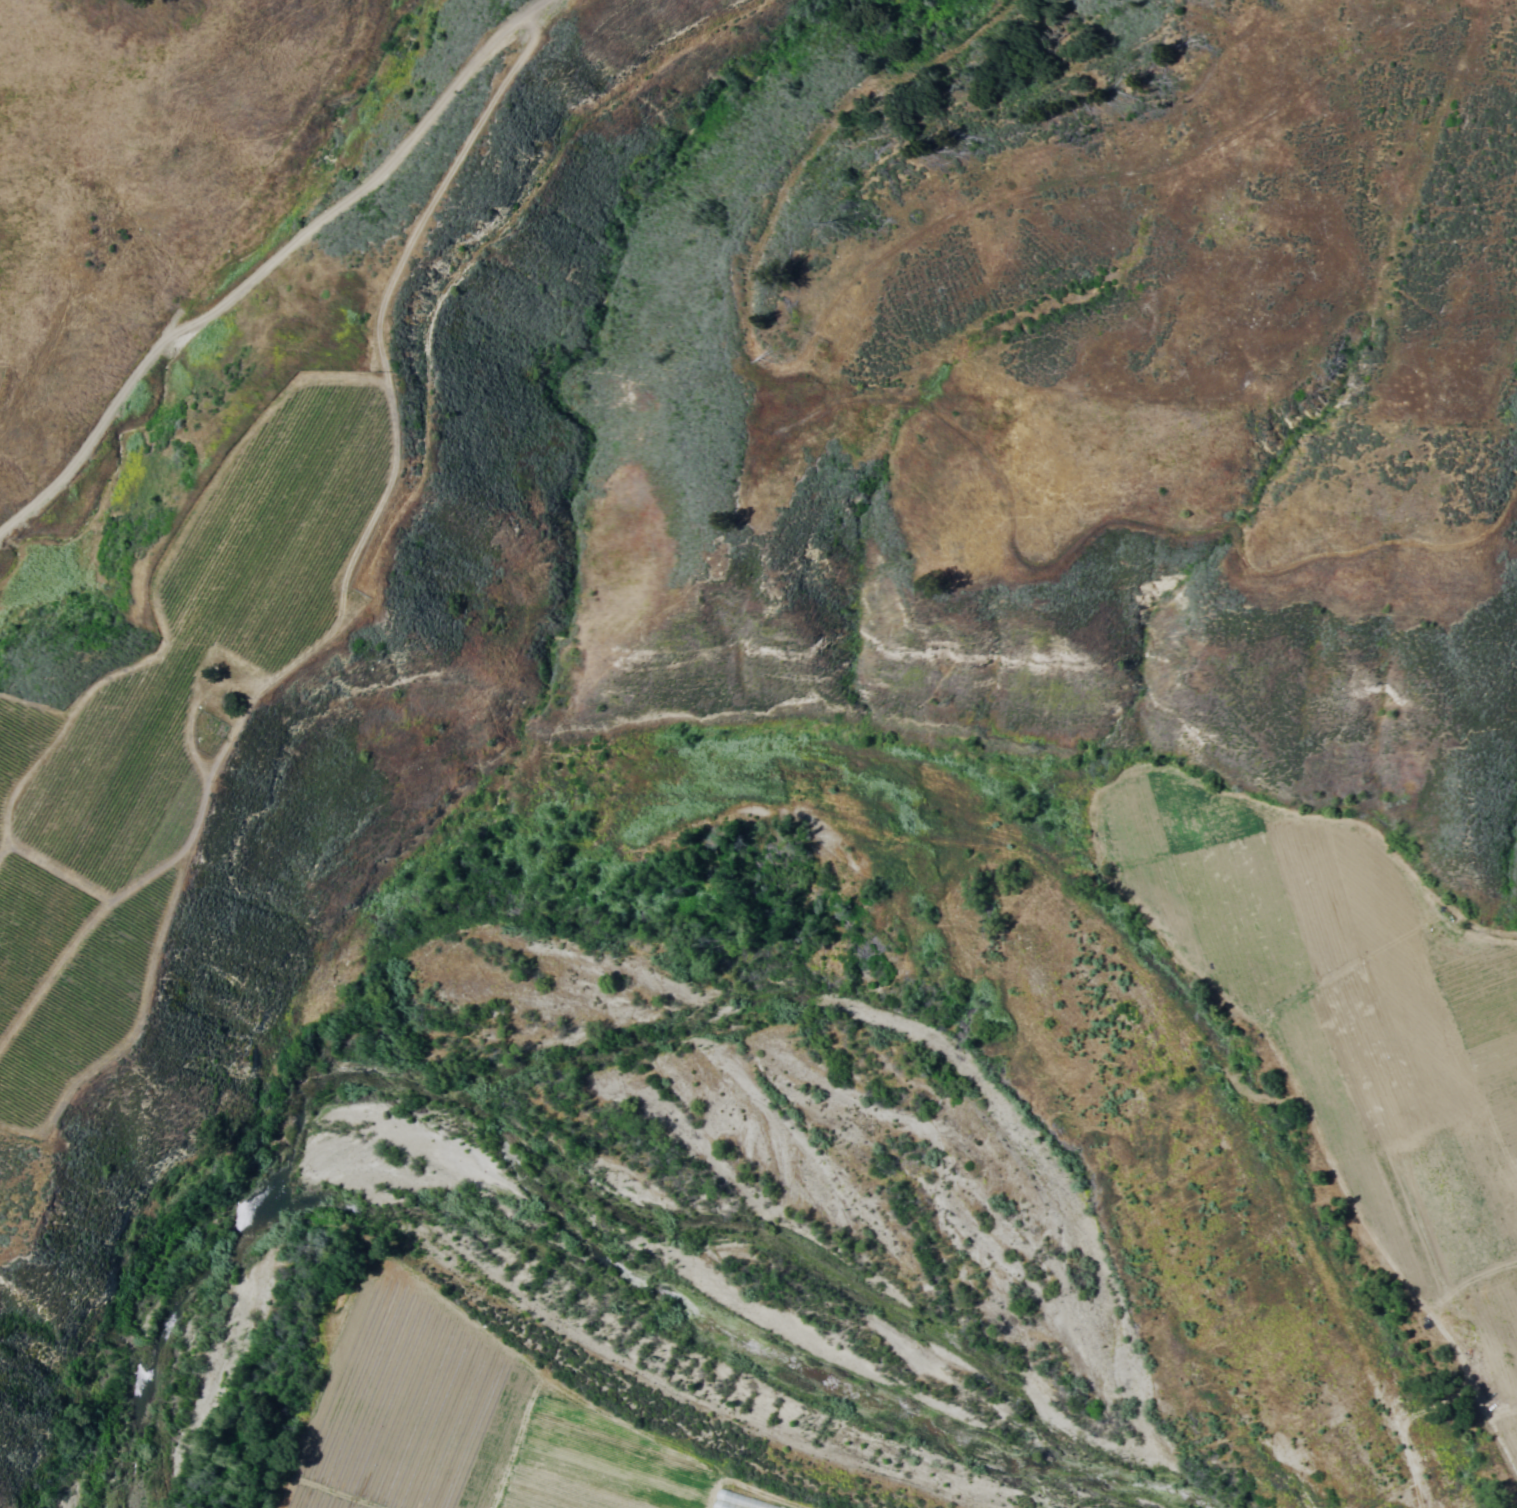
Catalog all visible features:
crop: (1491, 1018)
river: (702, 1046)
crop: (537, 1416)

